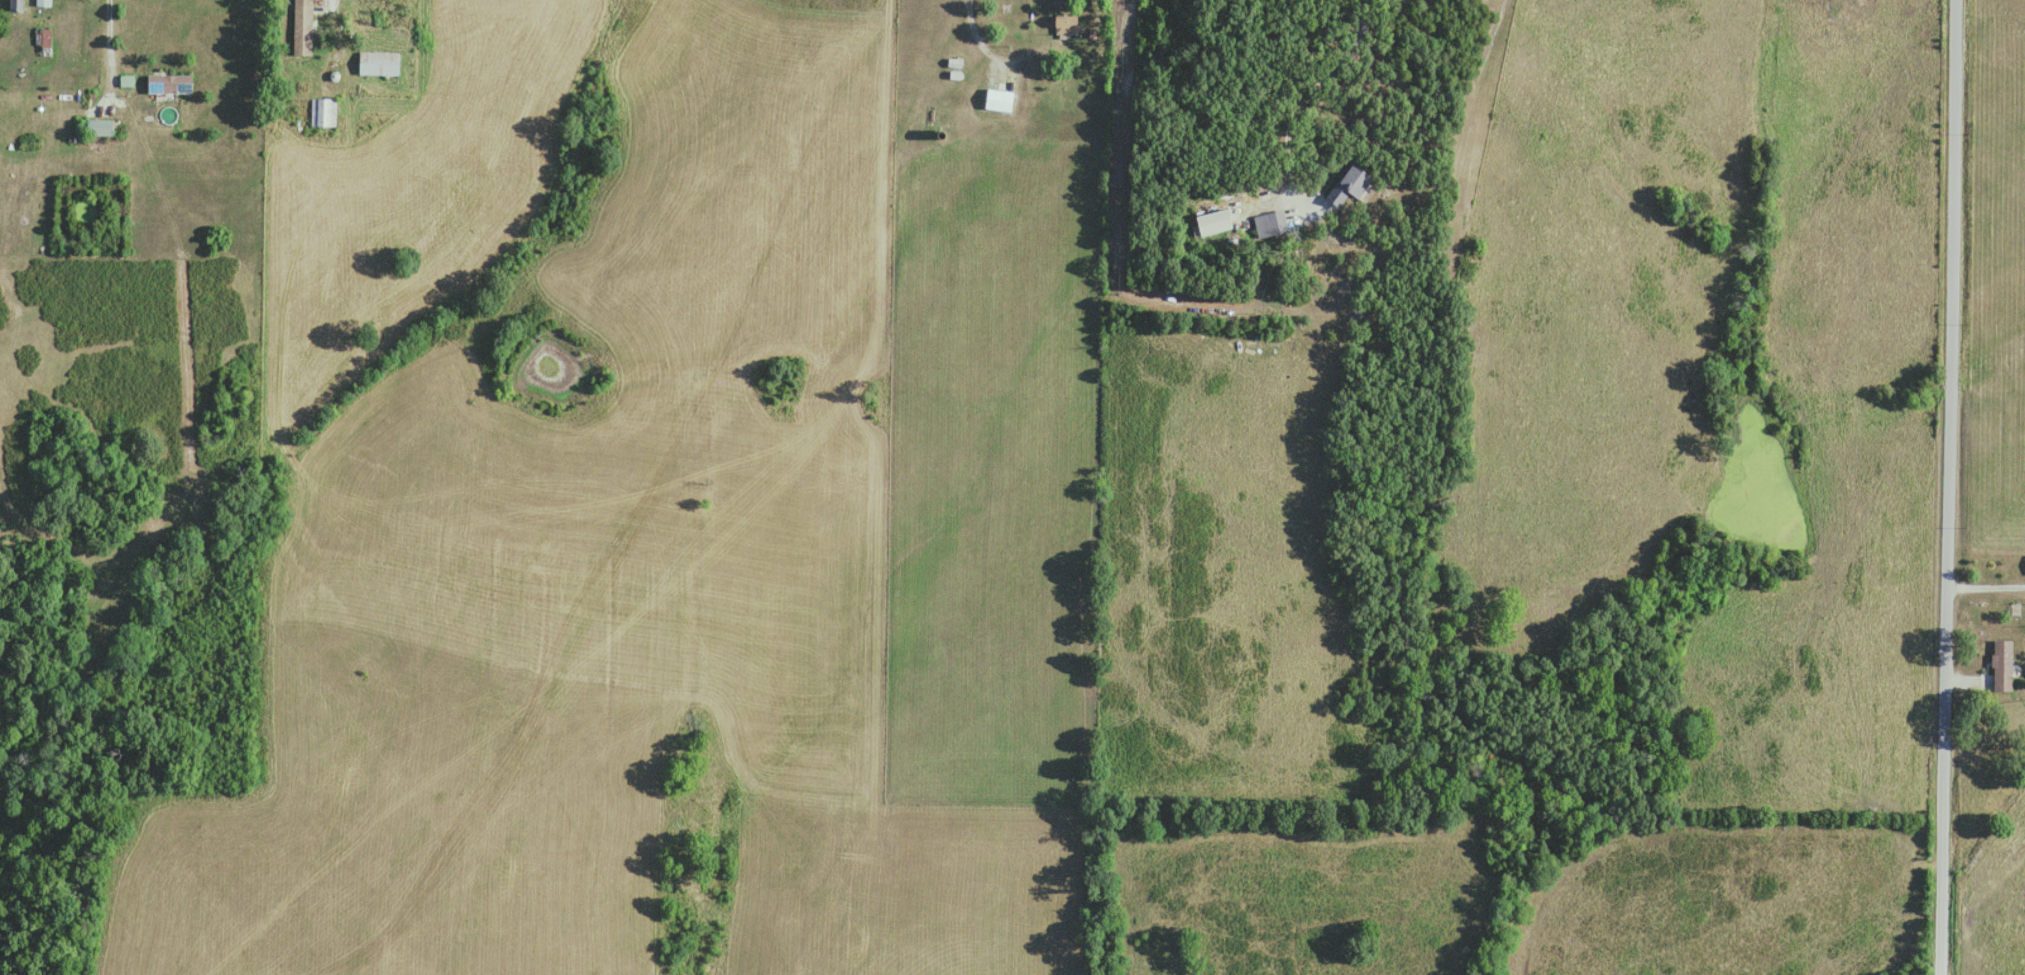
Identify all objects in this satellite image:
building: (383, 1)
building: (42, 2)
building: (16, 5)
building: (1069, 24)
building: (303, 27)
road: (343, 39)
building: (41, 41)
road: (110, 55)
building: (379, 62)
road: (997, 62)
building: (169, 83)
building: (991, 98)
building: (323, 111)
building: (100, 126)
building: (1351, 183)
building: (1270, 223)
road: (1354, 242)
road: (1950, 487)
road: (1986, 583)
building: (2003, 664)

